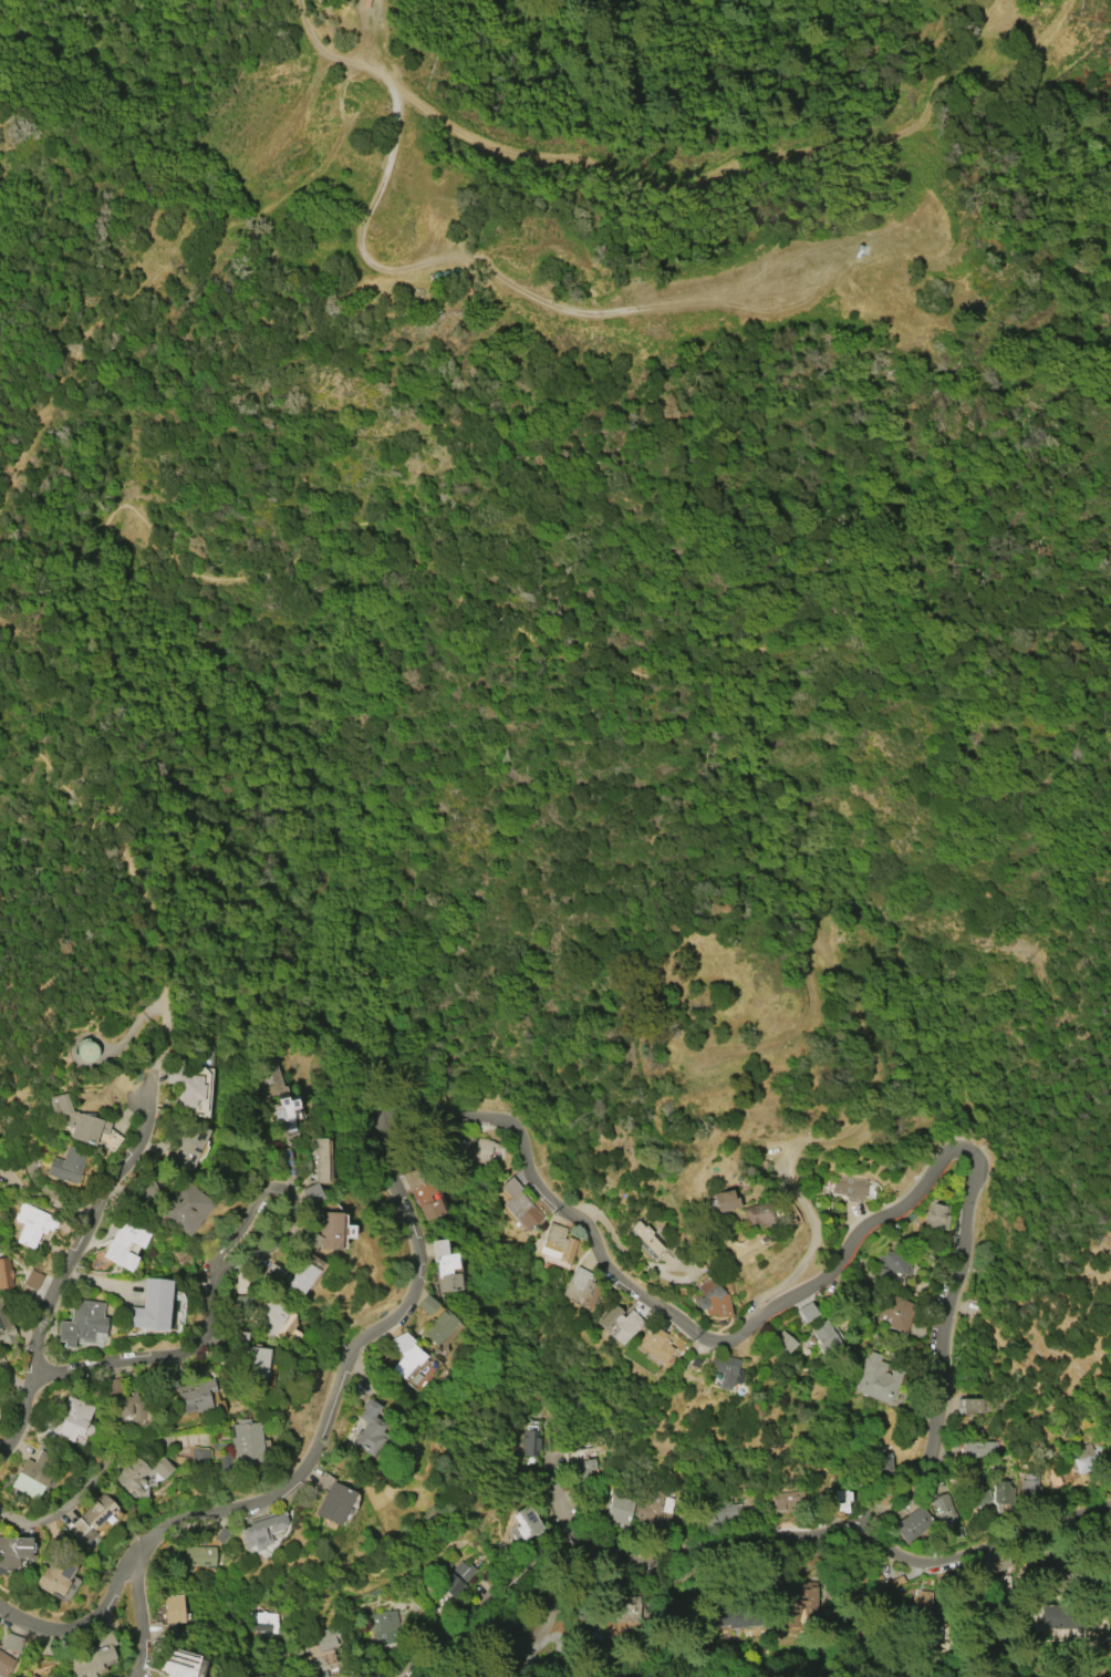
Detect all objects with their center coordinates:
road: (164, 4)
road: (148, 18)
road: (56, 99)
road: (480, 143)
road: (494, 276)
road: (84, 576)
road: (744, 658)
road: (148, 914)
road: (131, 1027)
road: (83, 1036)
road: (162, 1039)
building: (86, 1050)
storage tank: (86, 1050)
building: (185, 1086)
building: (288, 1106)
building: (76, 1120)
building: (188, 1142)
building: (465, 1145)
building: (315, 1160)
building: (65, 1164)
building: (849, 1188)
building: (312, 1193)
building: (424, 1195)
building: (724, 1201)
building: (520, 1204)
building: (186, 1207)
building: (756, 1213)
road: (967, 1213)
building: (935, 1214)
building: (31, 1223)
road: (812, 1229)
building: (324, 1232)
building: (645, 1238)
building: (125, 1244)
building: (557, 1245)
road: (70, 1255)
road: (416, 1257)
building: (892, 1264)
building: (445, 1266)
building: (6, 1272)
building: (274, 1273)
building: (300, 1277)
building: (32, 1280)
building: (581, 1287)
building: (710, 1297)
building: (241, 1303)
building: (1105, 1304)
building: (150, 1305)
building: (426, 1305)
building: (806, 1311)
building: (894, 1312)
building: (268, 1315)
building: (81, 1322)
building: (620, 1323)
building: (440, 1327)
building: (6, 1329)
building: (826, 1336)
building: (783, 1342)
building: (655, 1343)
building: (404, 1354)
building: (249, 1356)
road: (152, 1358)
building: (723, 1368)
building: (879, 1383)
building: (112, 1386)
building: (196, 1395)
building: (129, 1406)
building: (972, 1409)
building: (72, 1418)
building: (367, 1427)
building: (246, 1442)
building: (532, 1443)
building: (978, 1451)
building: (198, 1457)
building: (1083, 1462)
building: (883, 1466)
building: (162, 1468)
building: (583, 1468)
building: (34, 1473)
building: (133, 1479)
building: (1053, 1480)
building: (977, 1491)
building: (1031, 1492)
road: (83, 1494)
building: (1003, 1497)
road: (561, 1499)
building: (787, 1502)
building: (334, 1503)
building: (835, 1505)
building: (620, 1509)
building: (655, 1510)
building: (724, 1516)
building: (91, 1520)
building: (947, 1520)
building: (525, 1523)
building: (913, 1526)
road: (845, 1529)
building: (261, 1531)
building: (221, 1534)
building: (13, 1550)
building: (199, 1556)
building: (1001, 1563)
building: (1053, 1573)
building: (54, 1575)
building: (453, 1576)
building: (998, 1584)
building: (923, 1601)
road: (476, 1602)
building: (173, 1608)
building: (811, 1609)
road: (139, 1617)
building: (744, 1619)
building: (551, 1621)
building: (1068, 1621)
building: (525, 1622)
building: (262, 1623)
building: (384, 1626)
building: (167, 1631)
building: (325, 1638)
building: (11, 1642)
building: (92, 1656)
building: (4, 1664)
building: (181, 1664)
building: (330, 1674)
building: (27, 1676)
building: (259, 1676)

